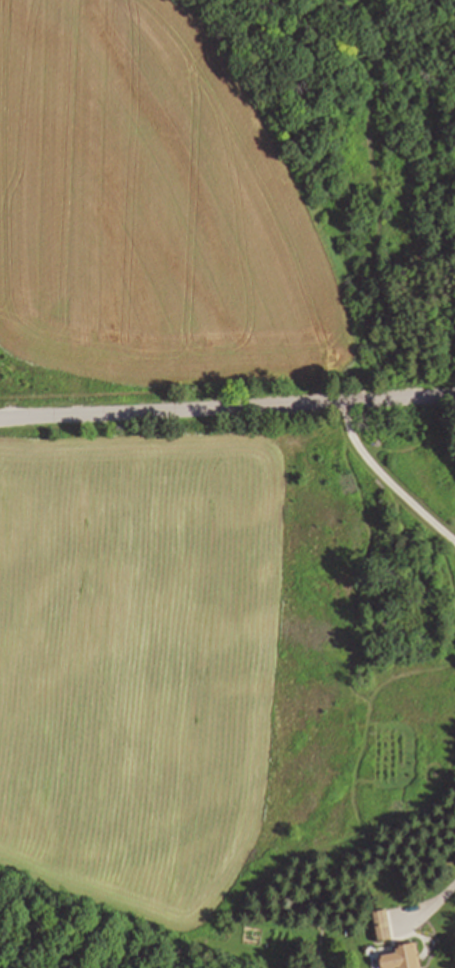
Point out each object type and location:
road: (227, 409)
road: (386, 481)
road: (432, 902)
building: (385, 927)
building: (404, 959)

